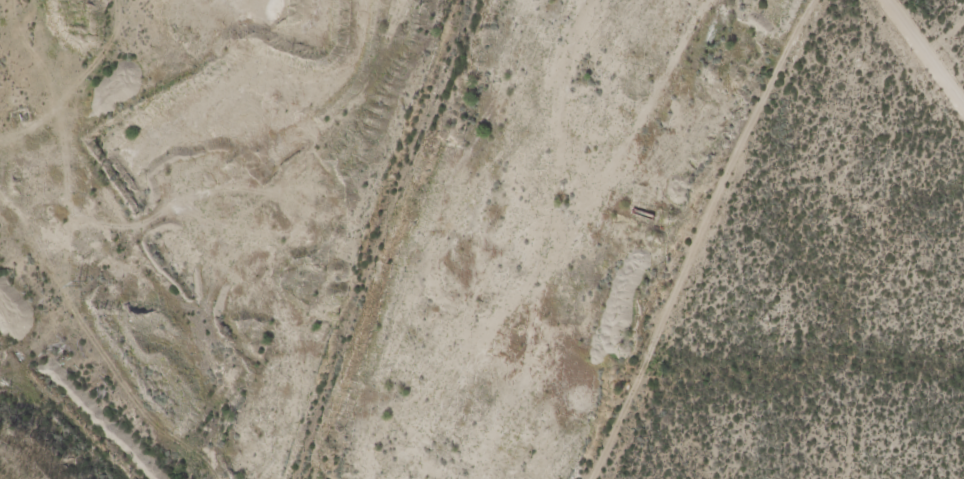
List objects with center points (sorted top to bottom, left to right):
road: (215, 102)
road: (299, 226)
power tower: (92, 283)
road: (109, 322)

